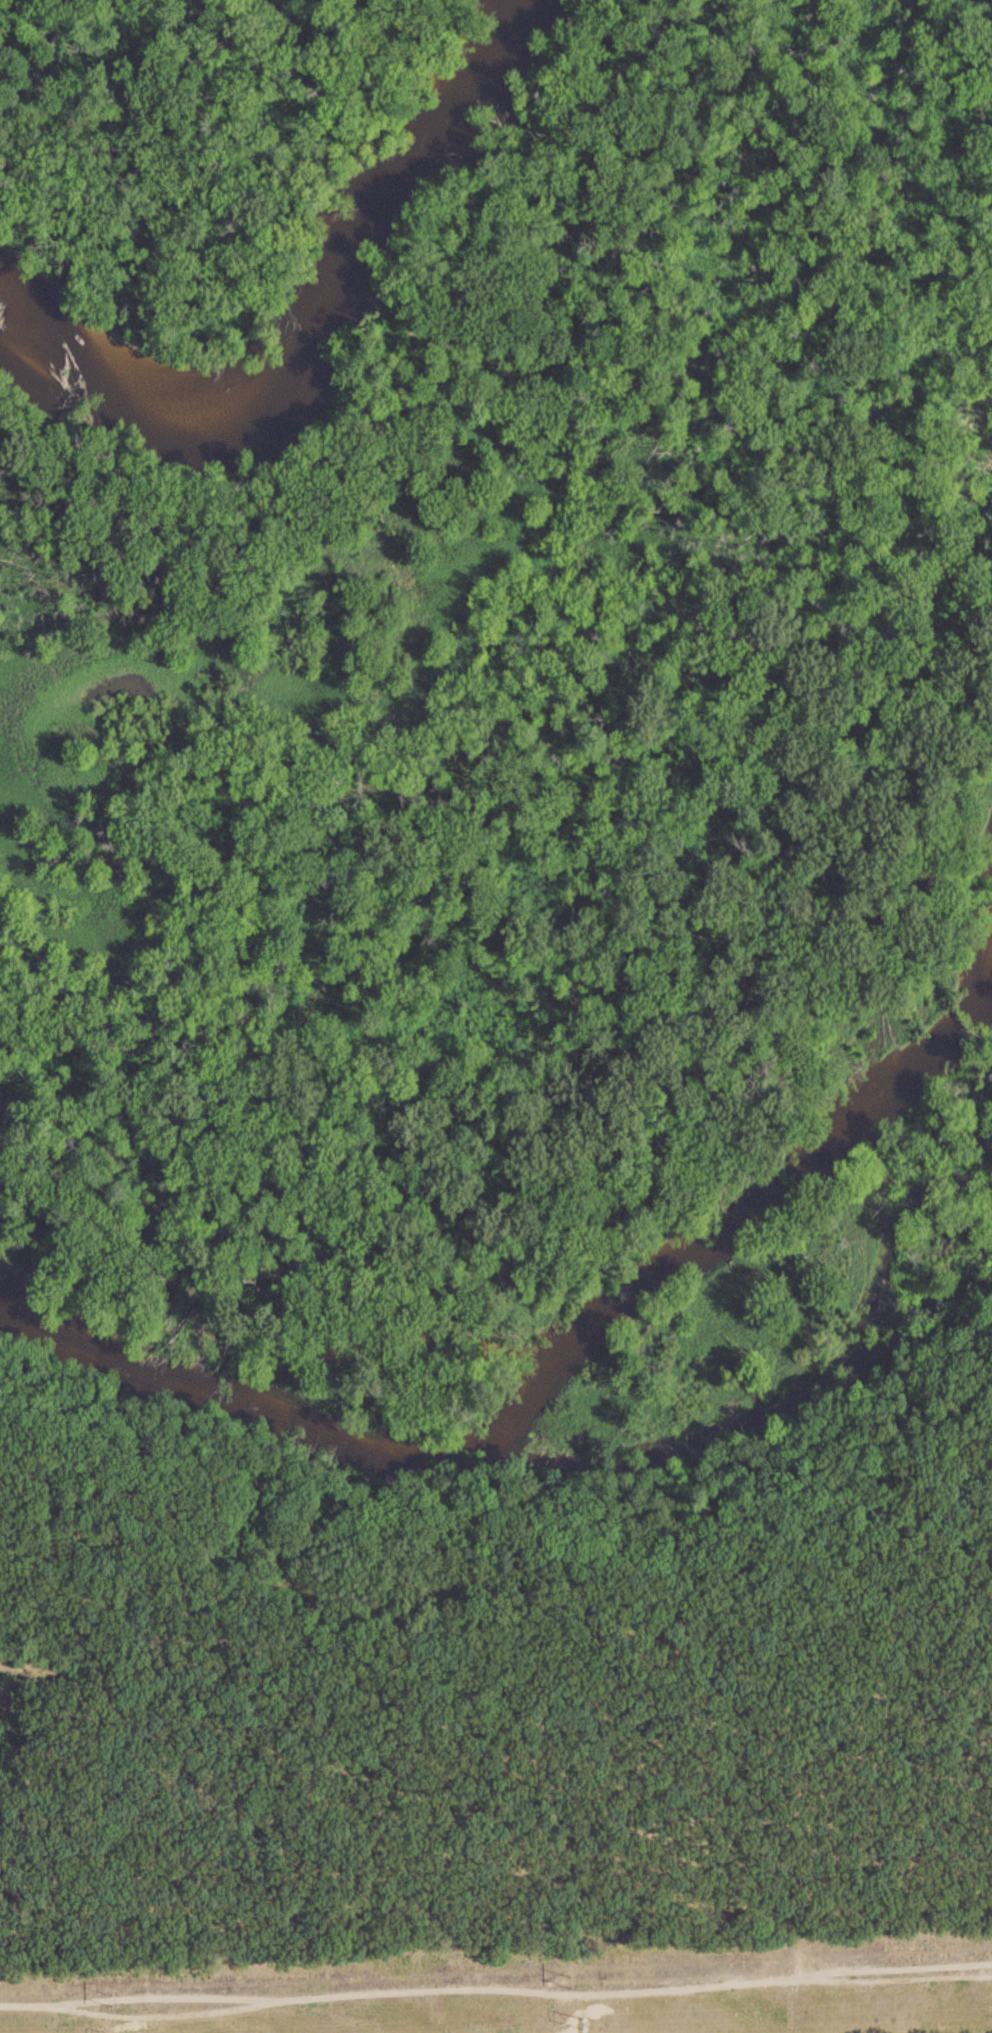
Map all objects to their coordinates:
river: (307, 326)
power tower: (571, 1980)
power tower: (111, 1998)
power tower: (573, 2022)

